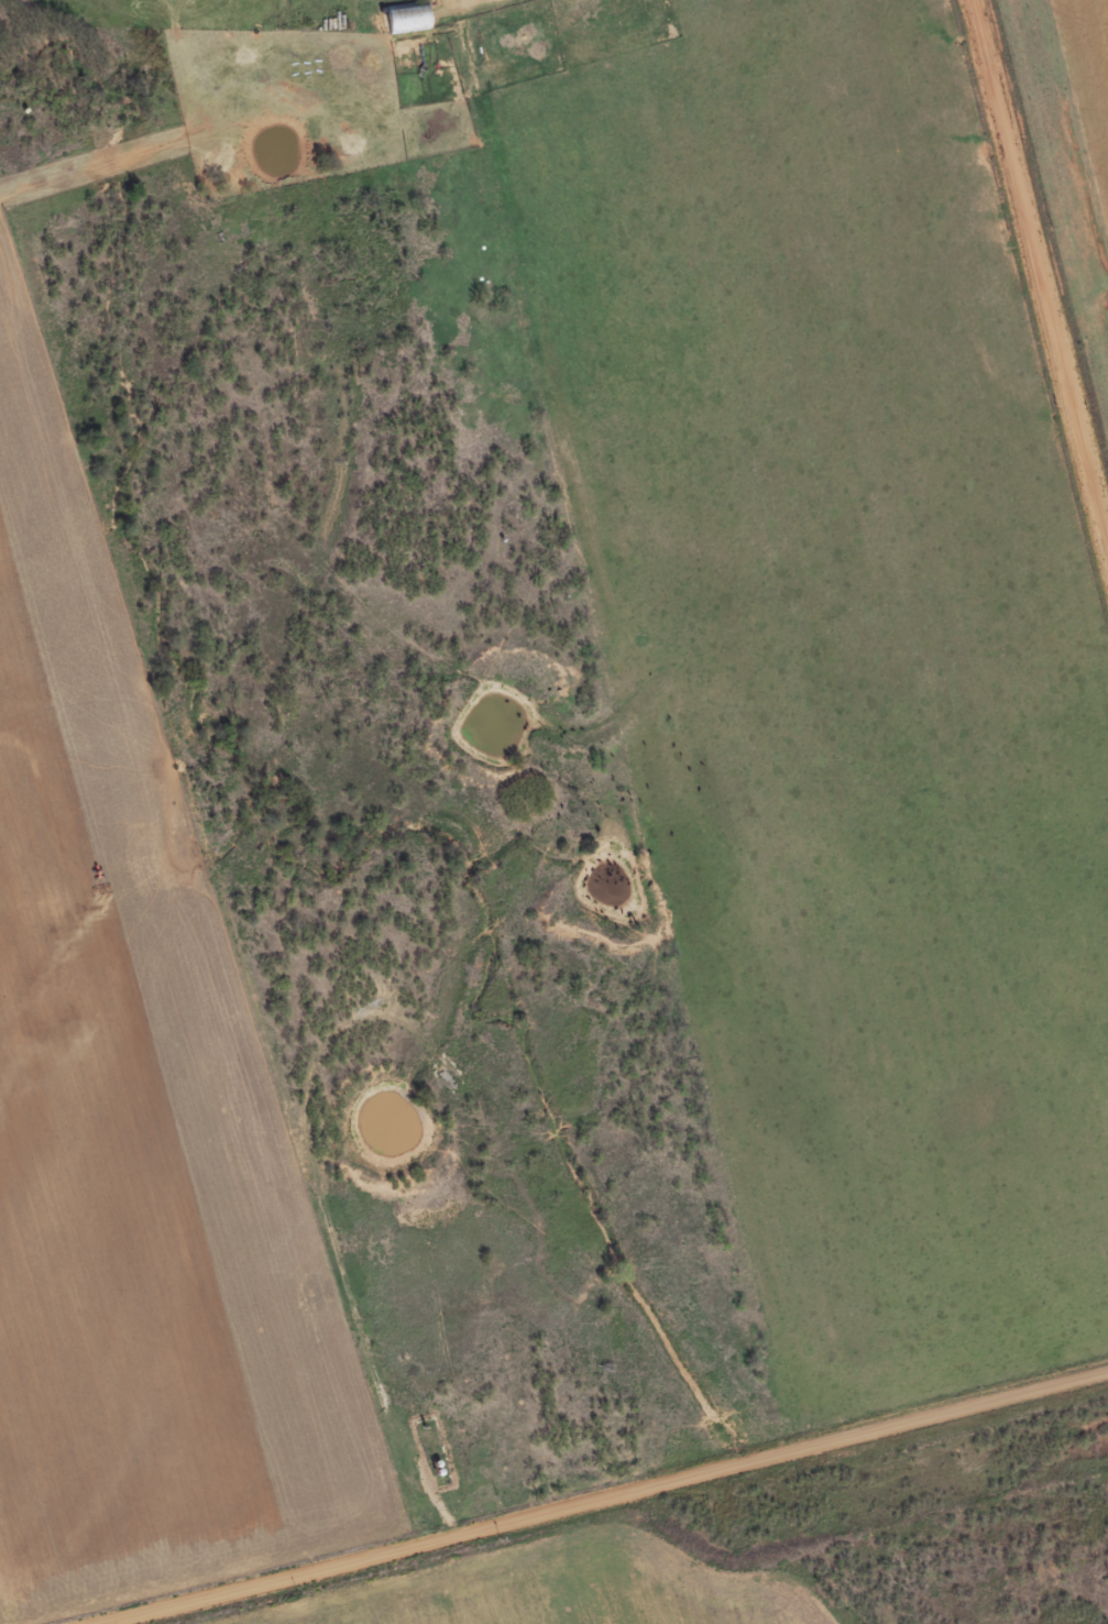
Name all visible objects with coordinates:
building: (410, 19)
road: (1040, 272)
road: (641, 721)
road: (597, 1496)

